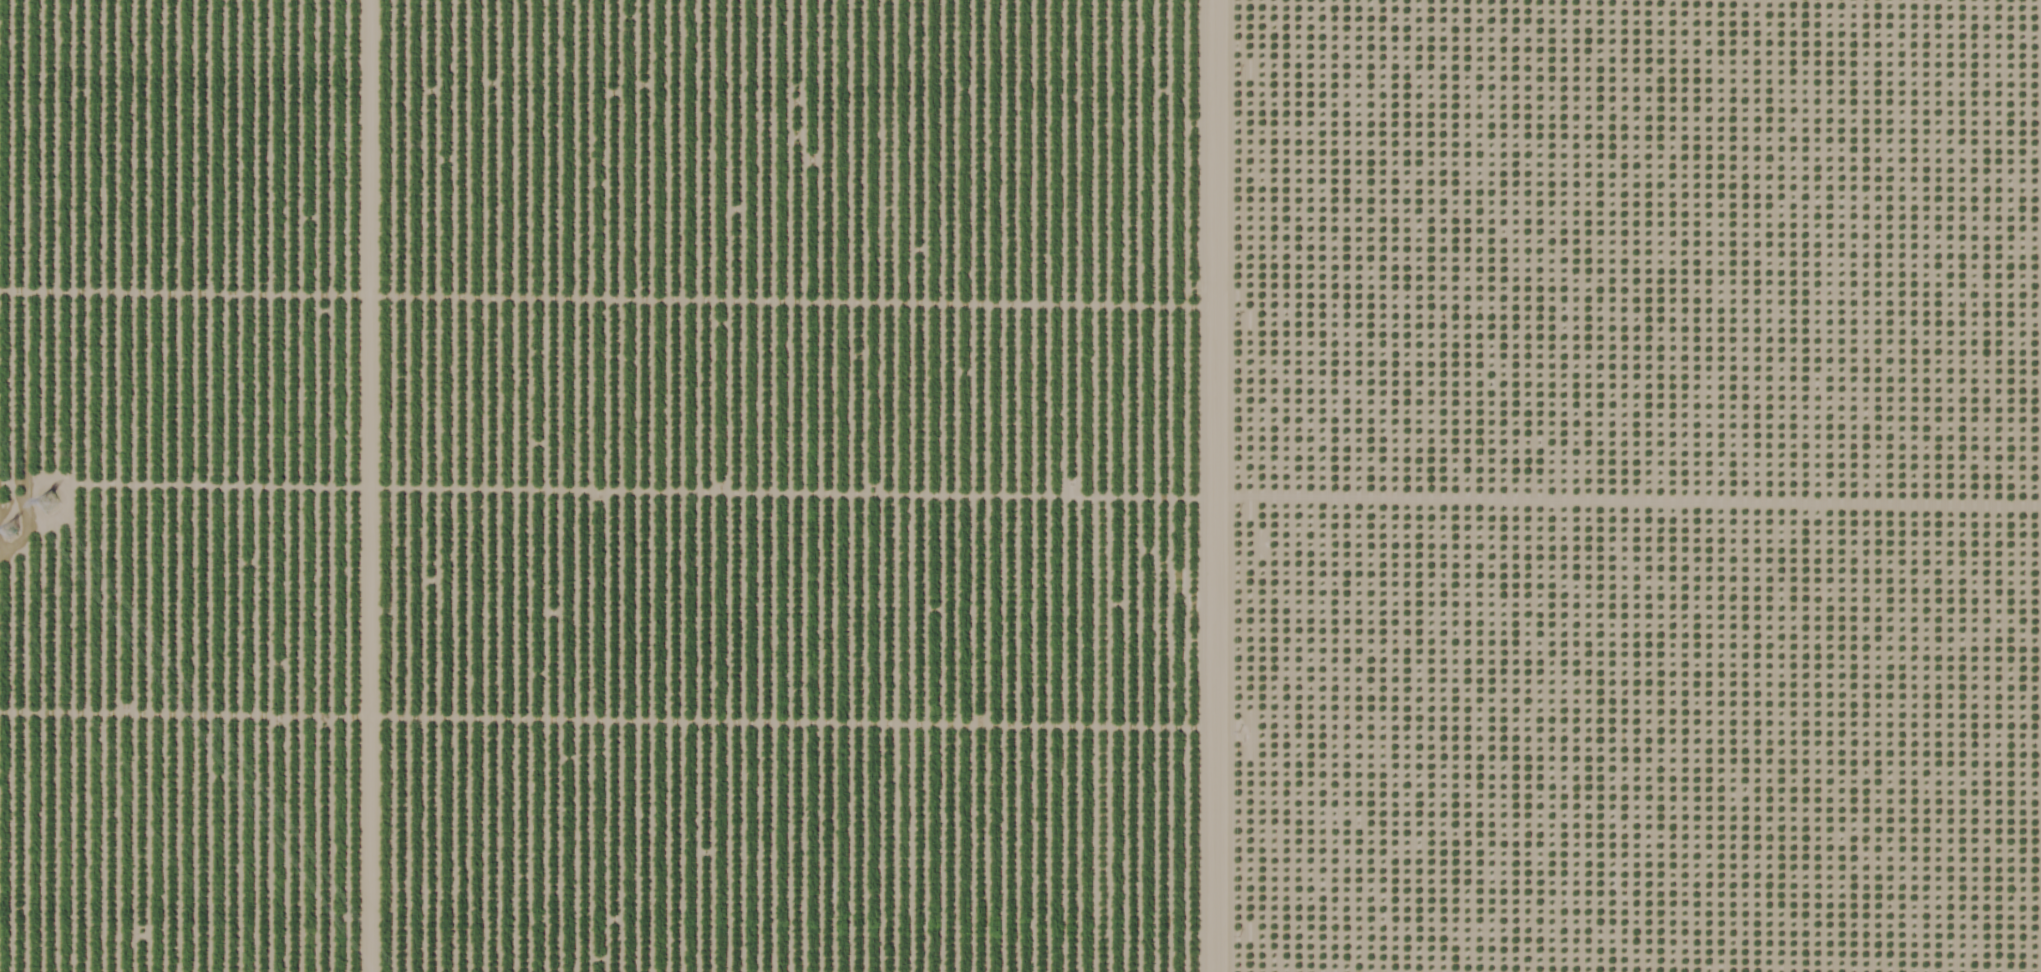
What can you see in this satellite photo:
road: (1240, 486)
power tower: (52, 498)
power tower: (15, 523)

